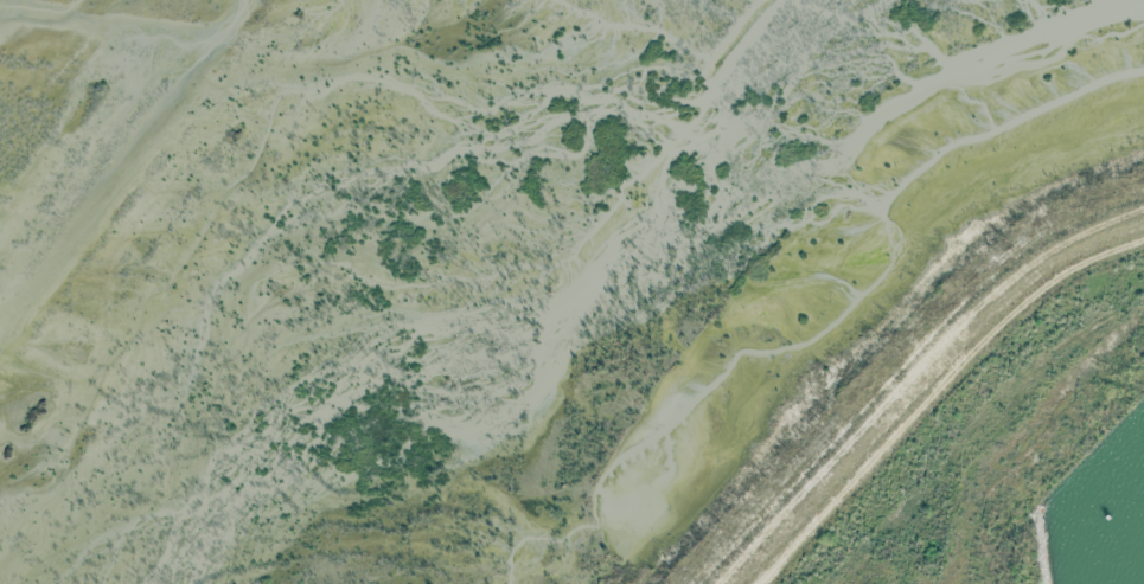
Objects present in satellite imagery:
road: (960, 400)

